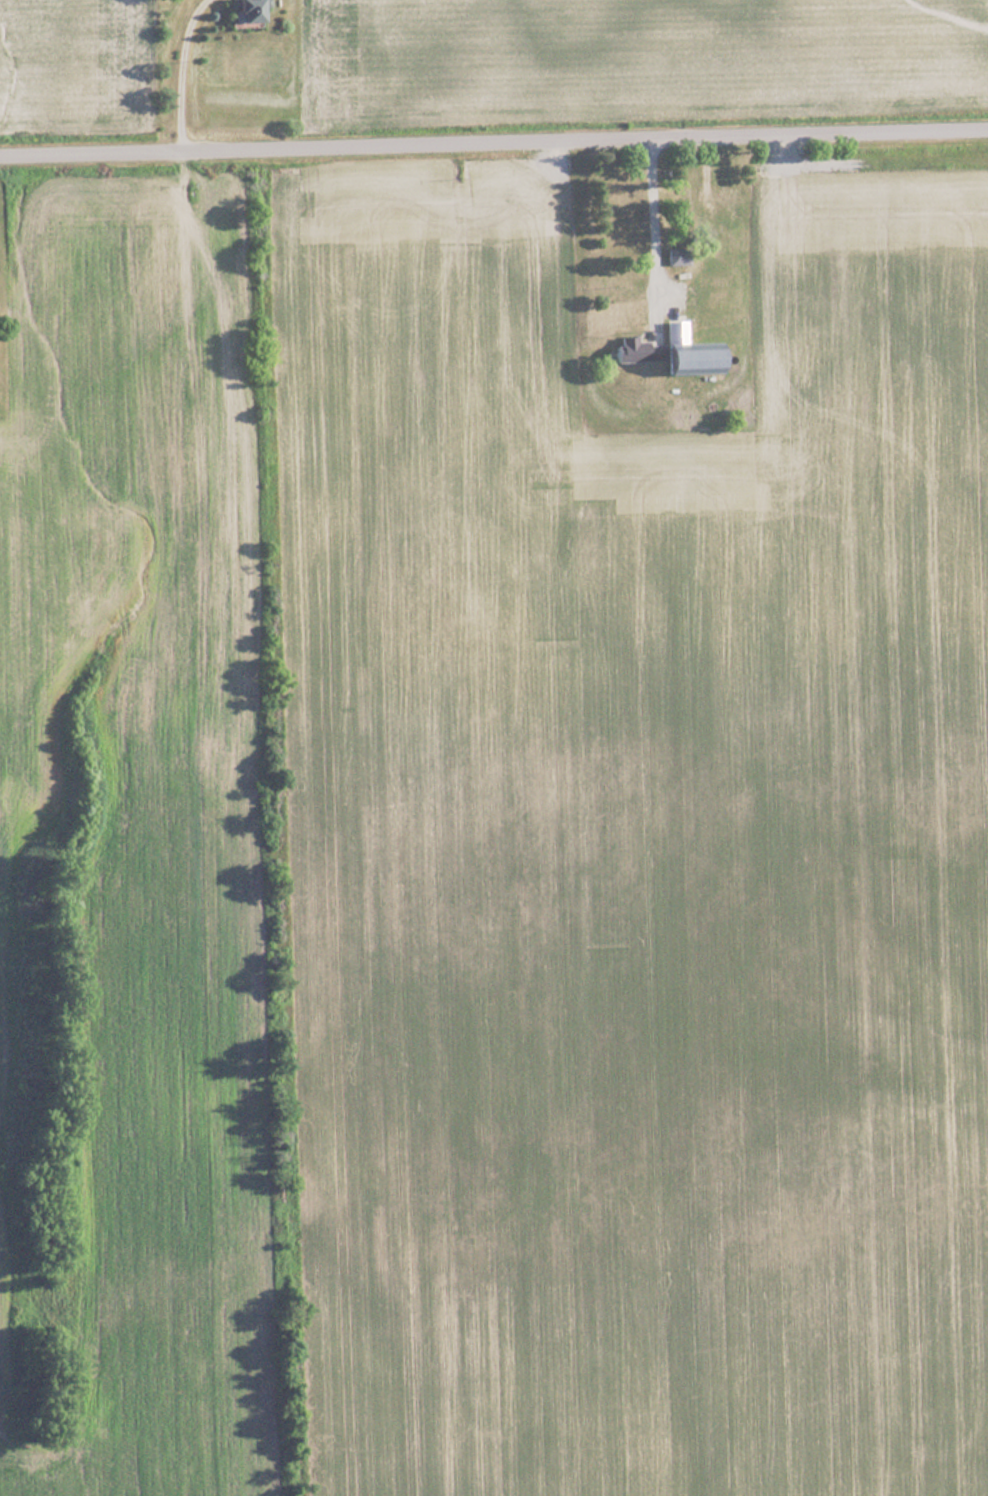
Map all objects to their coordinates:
building: (242, 10)
road: (178, 75)
road: (494, 143)
building: (723, 193)
road: (648, 226)
building: (674, 255)
building: (665, 354)

